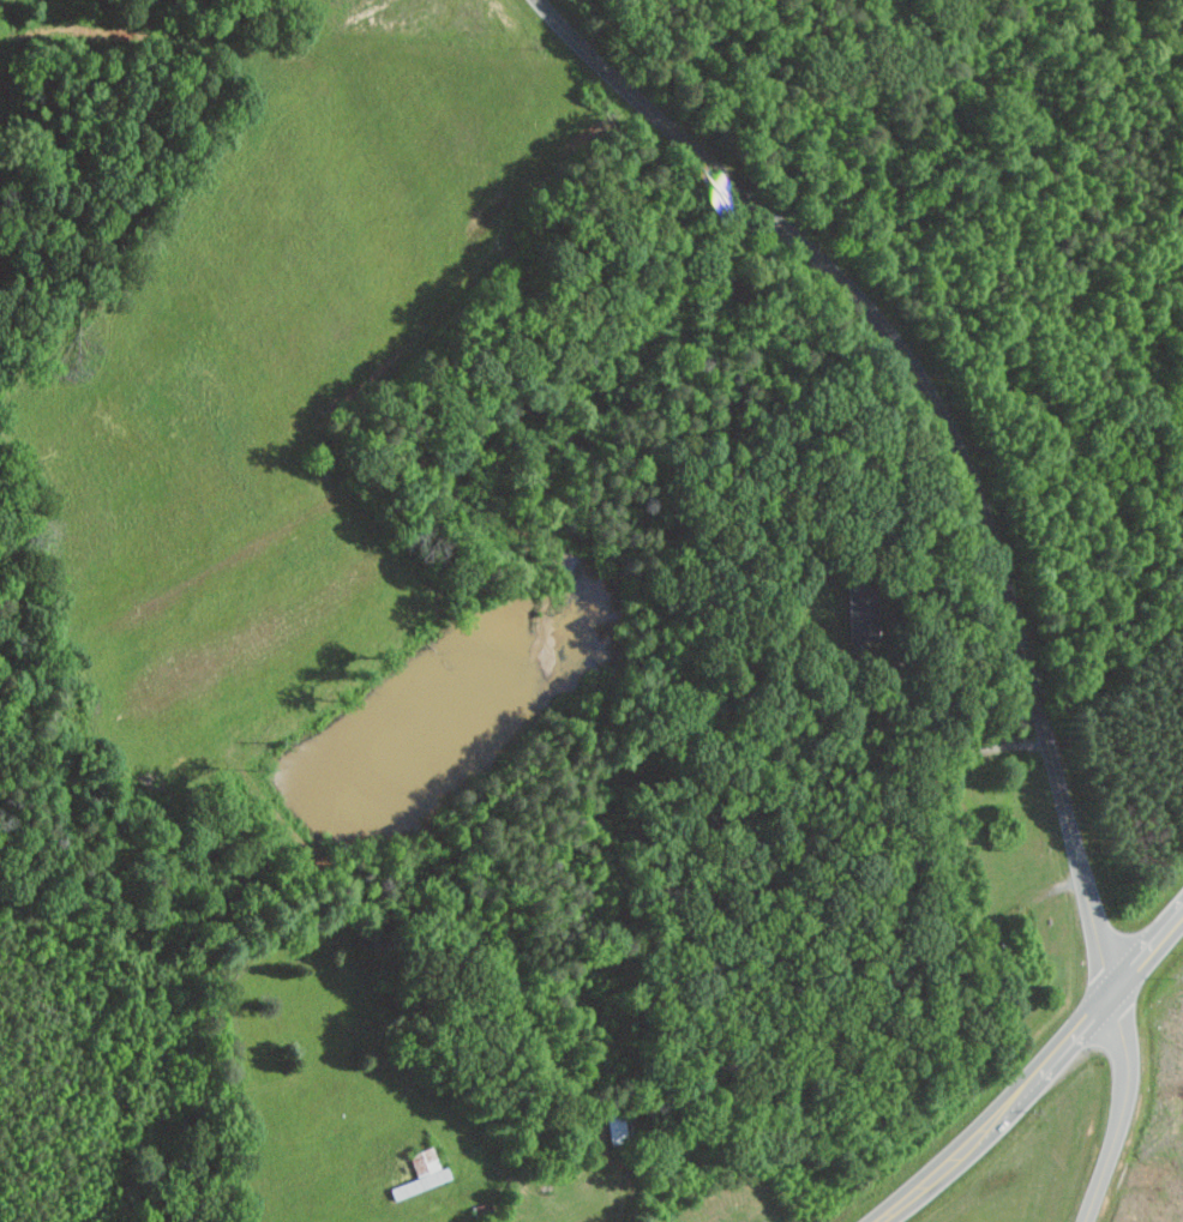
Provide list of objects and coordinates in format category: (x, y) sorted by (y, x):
road: (993, 536)
road: (954, 735)
road: (1038, 1073)
building: (419, 1173)

